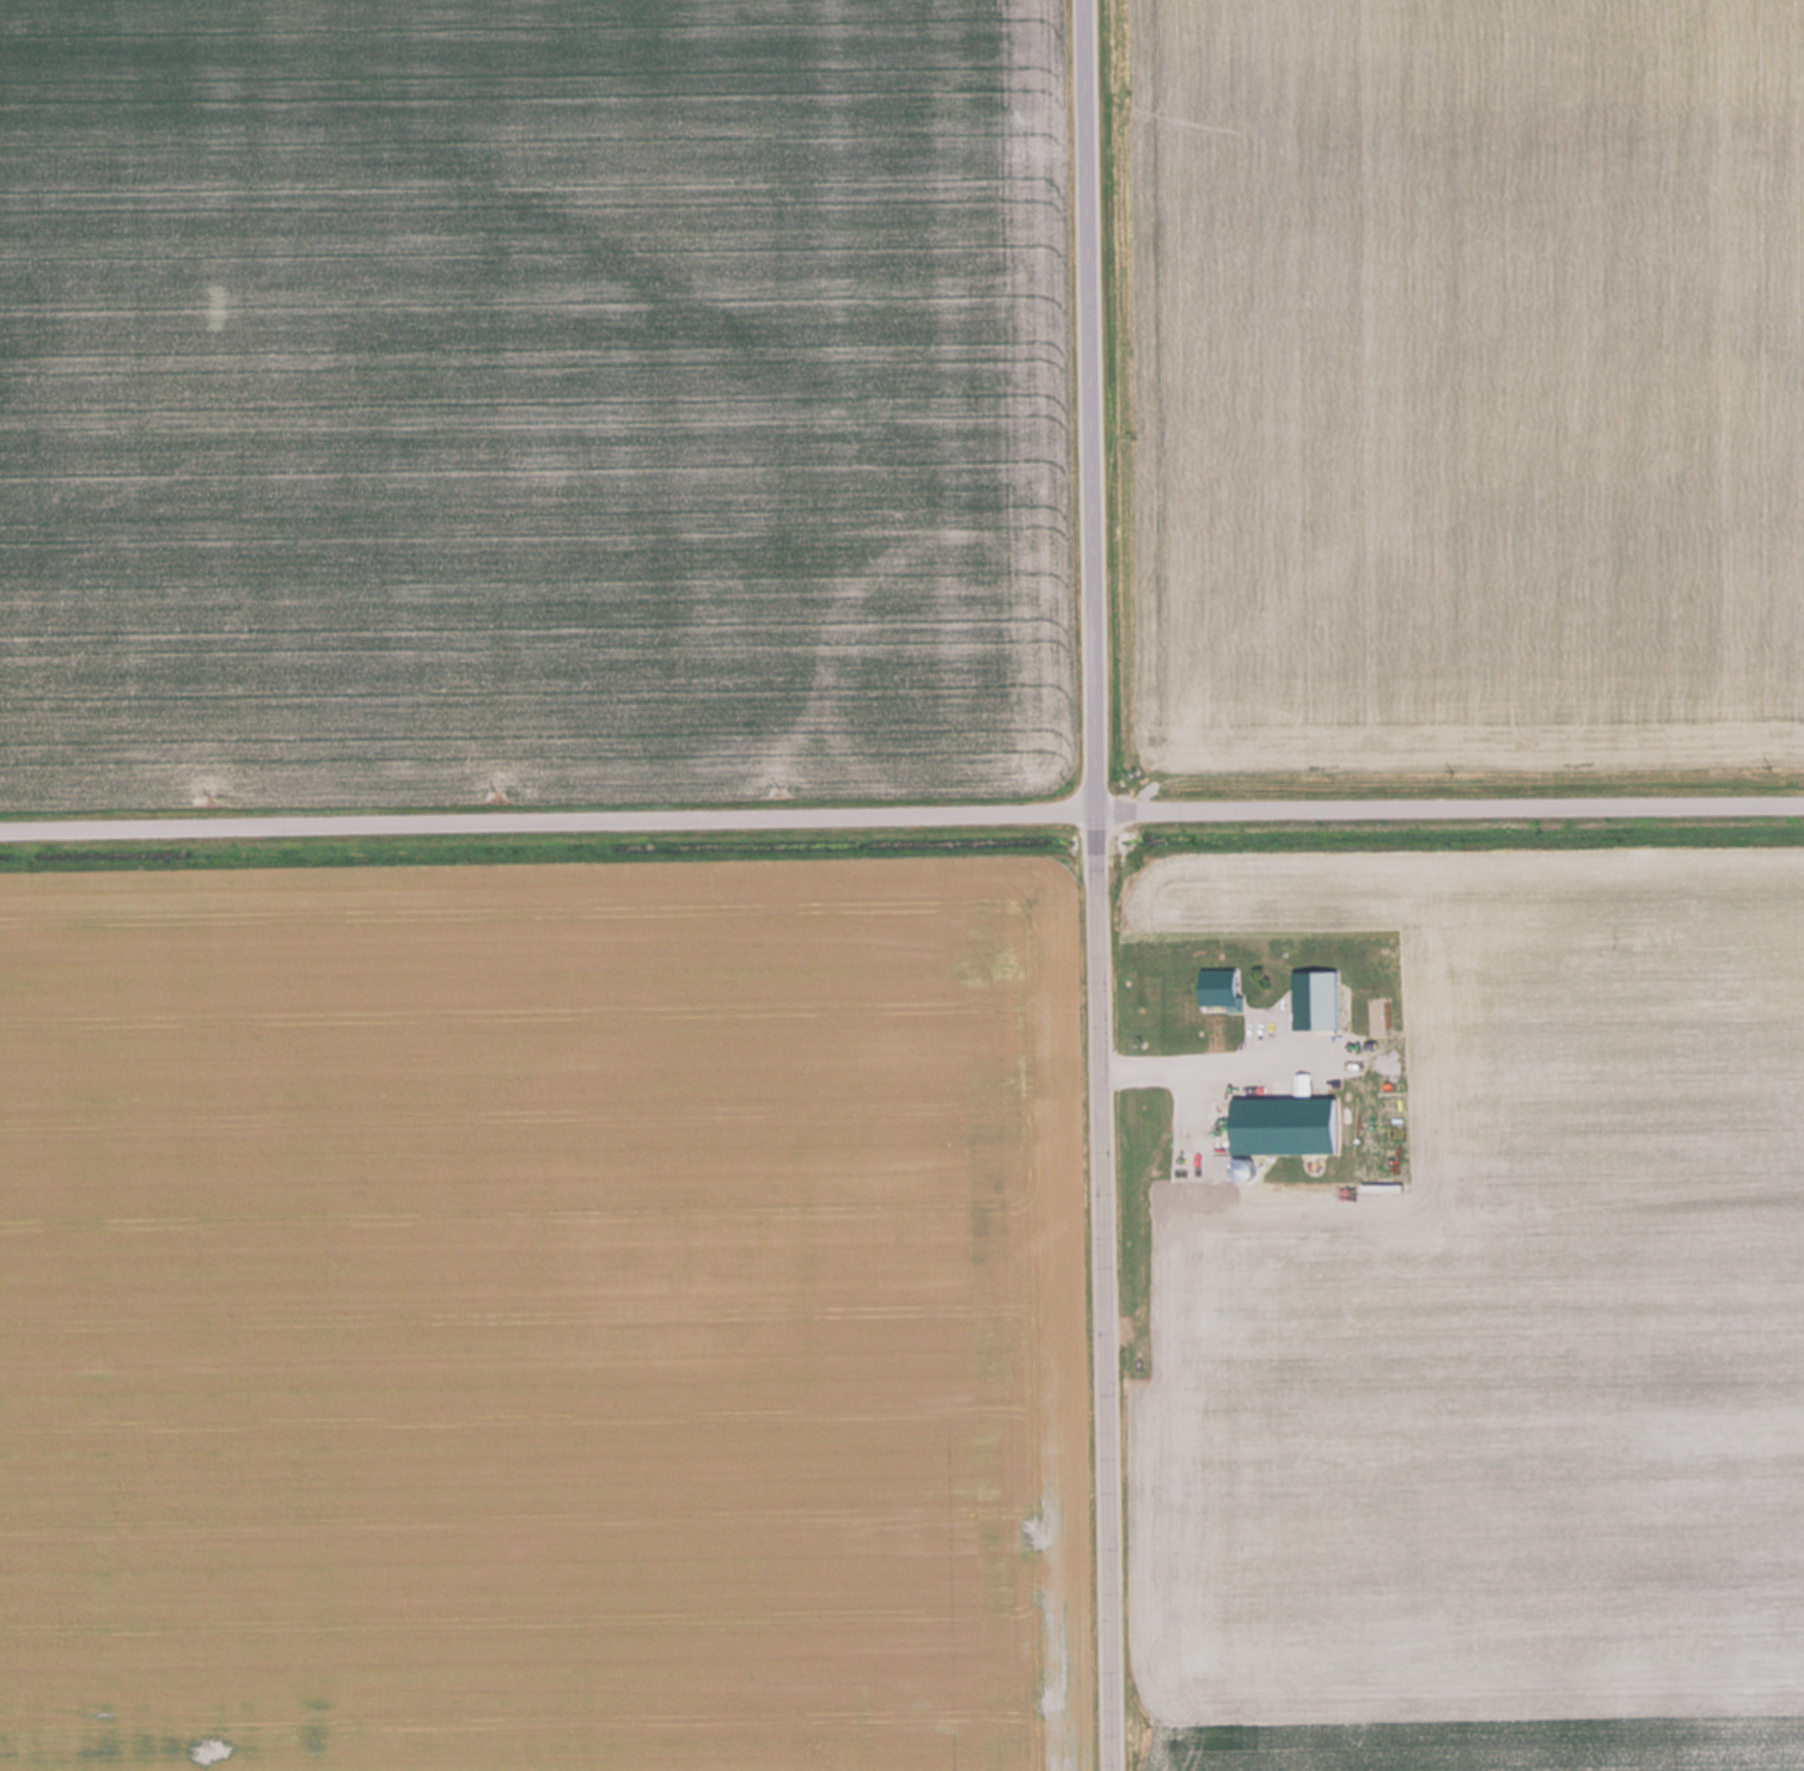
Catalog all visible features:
road: (901, 814)
road: (1103, 885)
building: (1316, 999)
building: (1193, 1007)

